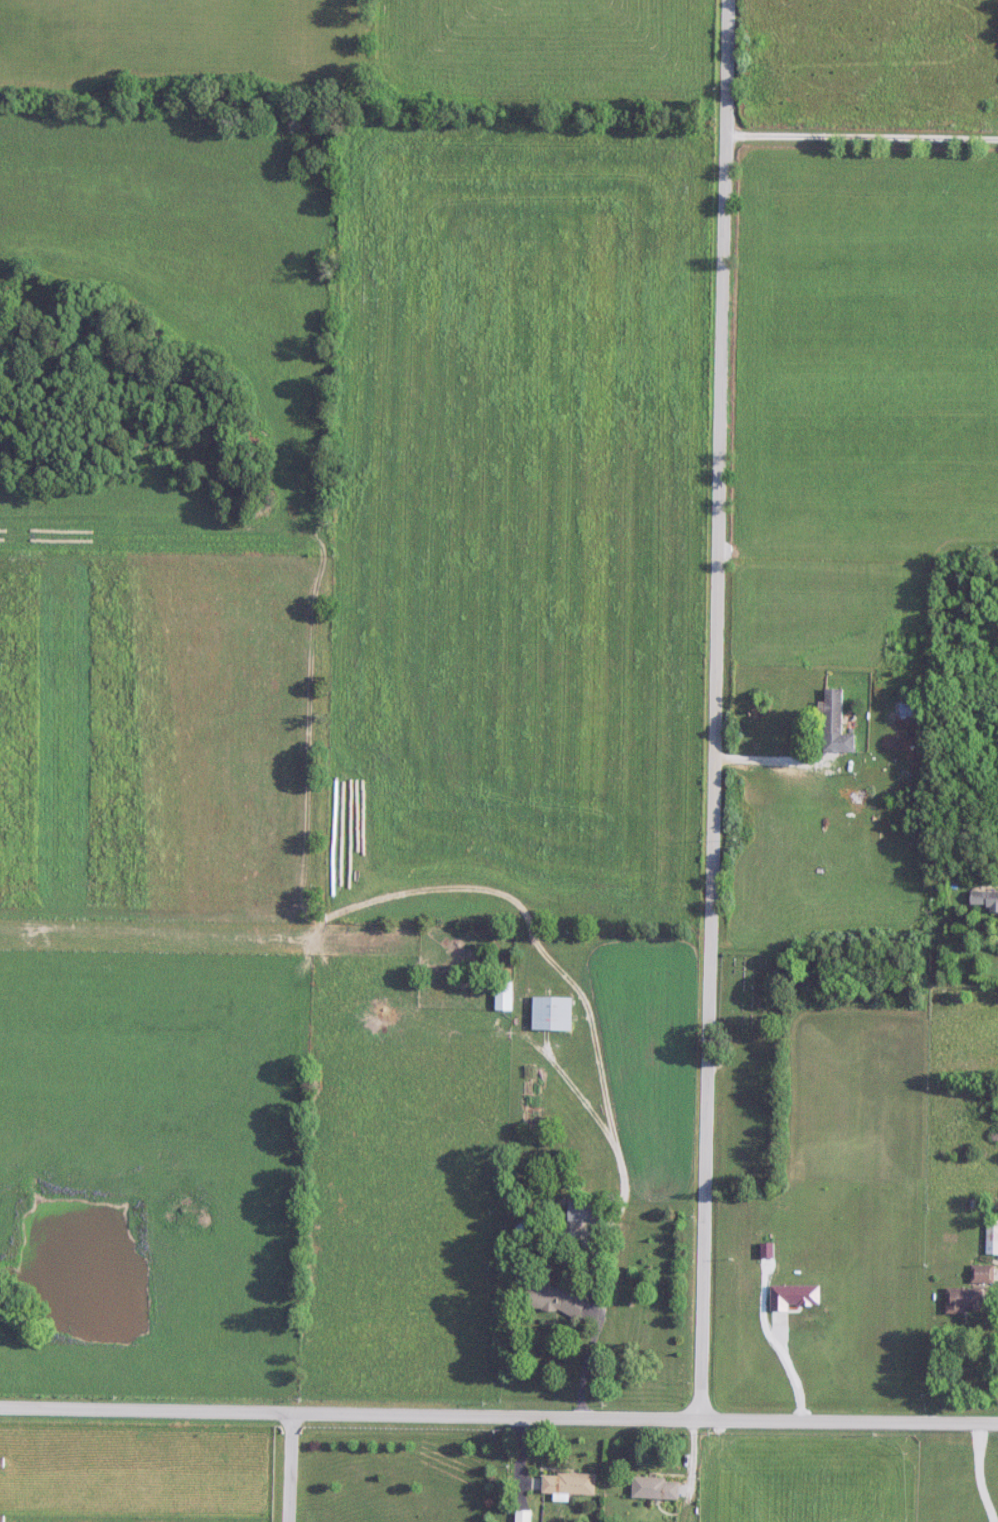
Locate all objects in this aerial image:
road: (866, 134)
building: (911, 709)
road: (721, 711)
building: (835, 723)
road: (773, 760)
building: (984, 899)
park: (751, 995)
building: (503, 996)
building: (551, 1014)
road: (621, 1172)
building: (582, 1211)
building: (991, 1237)
building: (982, 1274)
building: (554, 1300)
building: (963, 1301)
road: (790, 1370)
road: (498, 1418)
road: (294, 1468)
building: (568, 1484)
building: (654, 1489)

